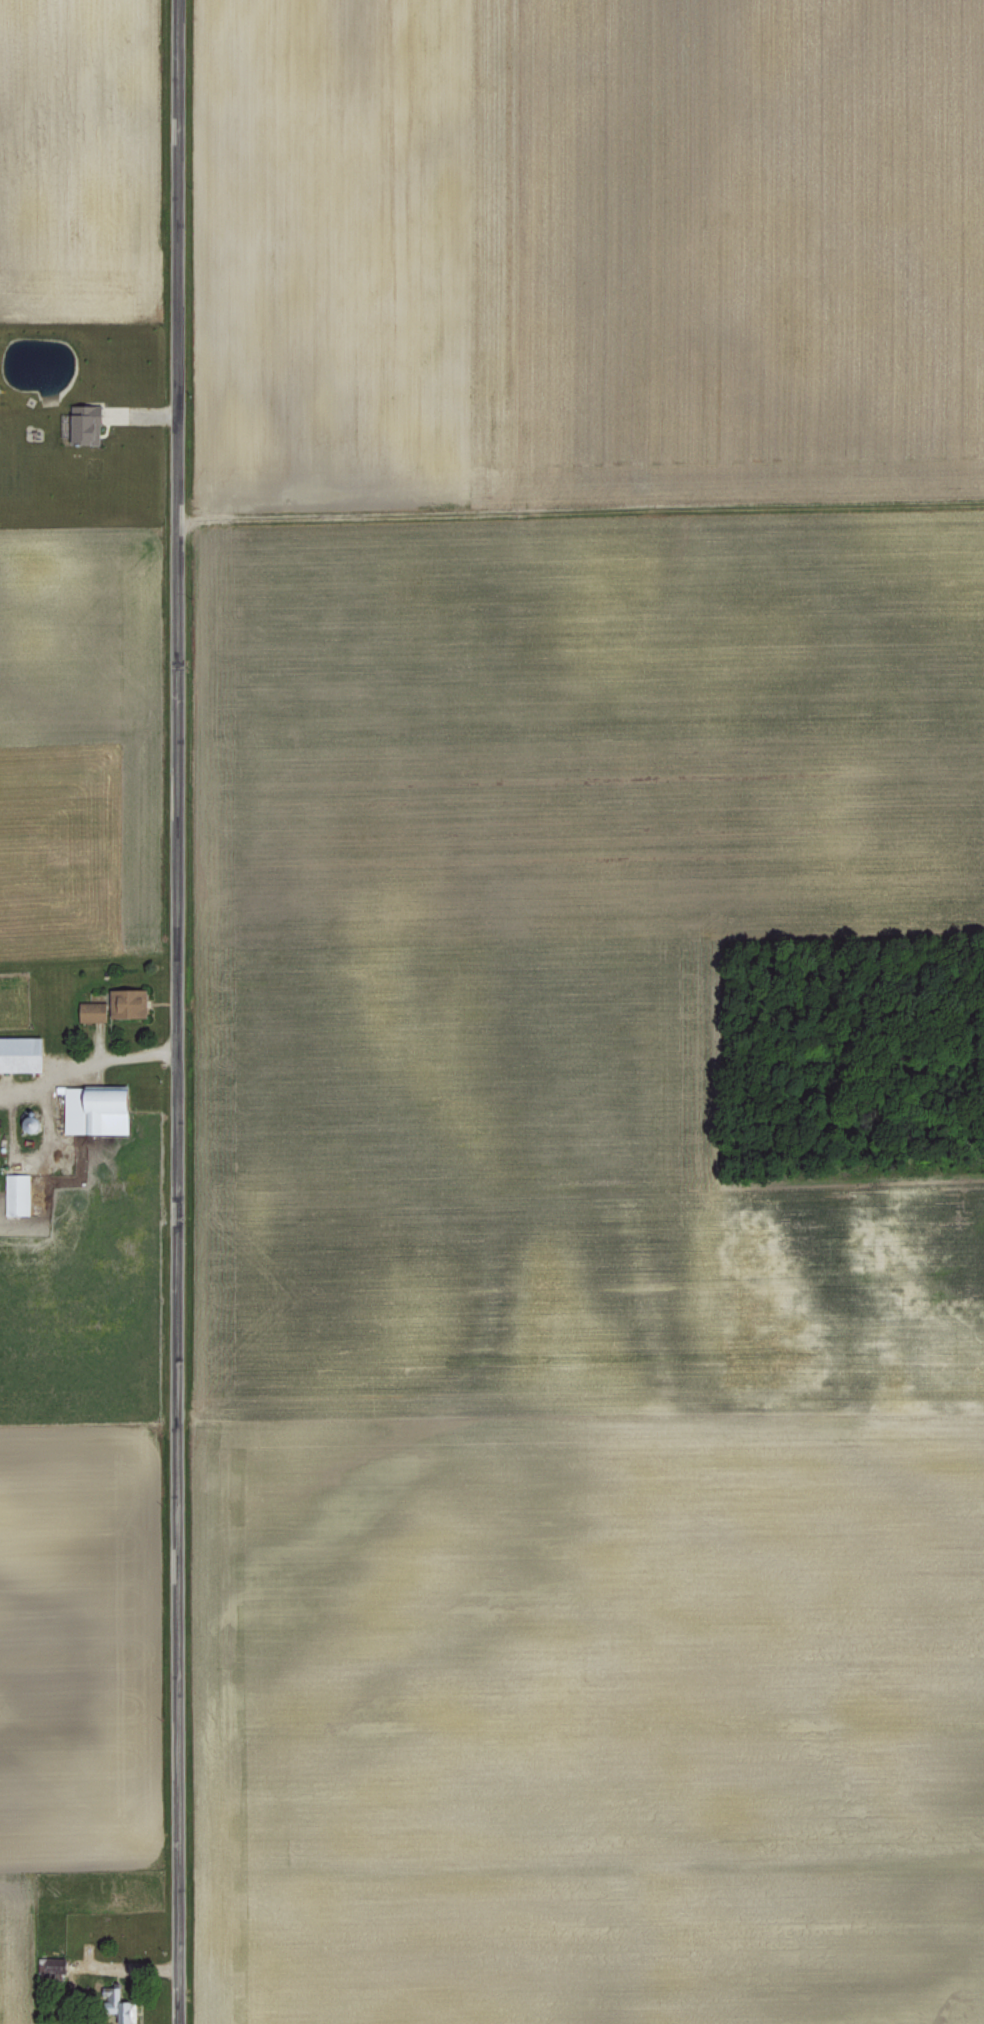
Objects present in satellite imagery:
building: (78, 422)
building: (110, 1005)
road: (172, 1011)
building: (19, 1053)
road: (84, 1060)
building: (90, 1109)
building: (14, 1193)

